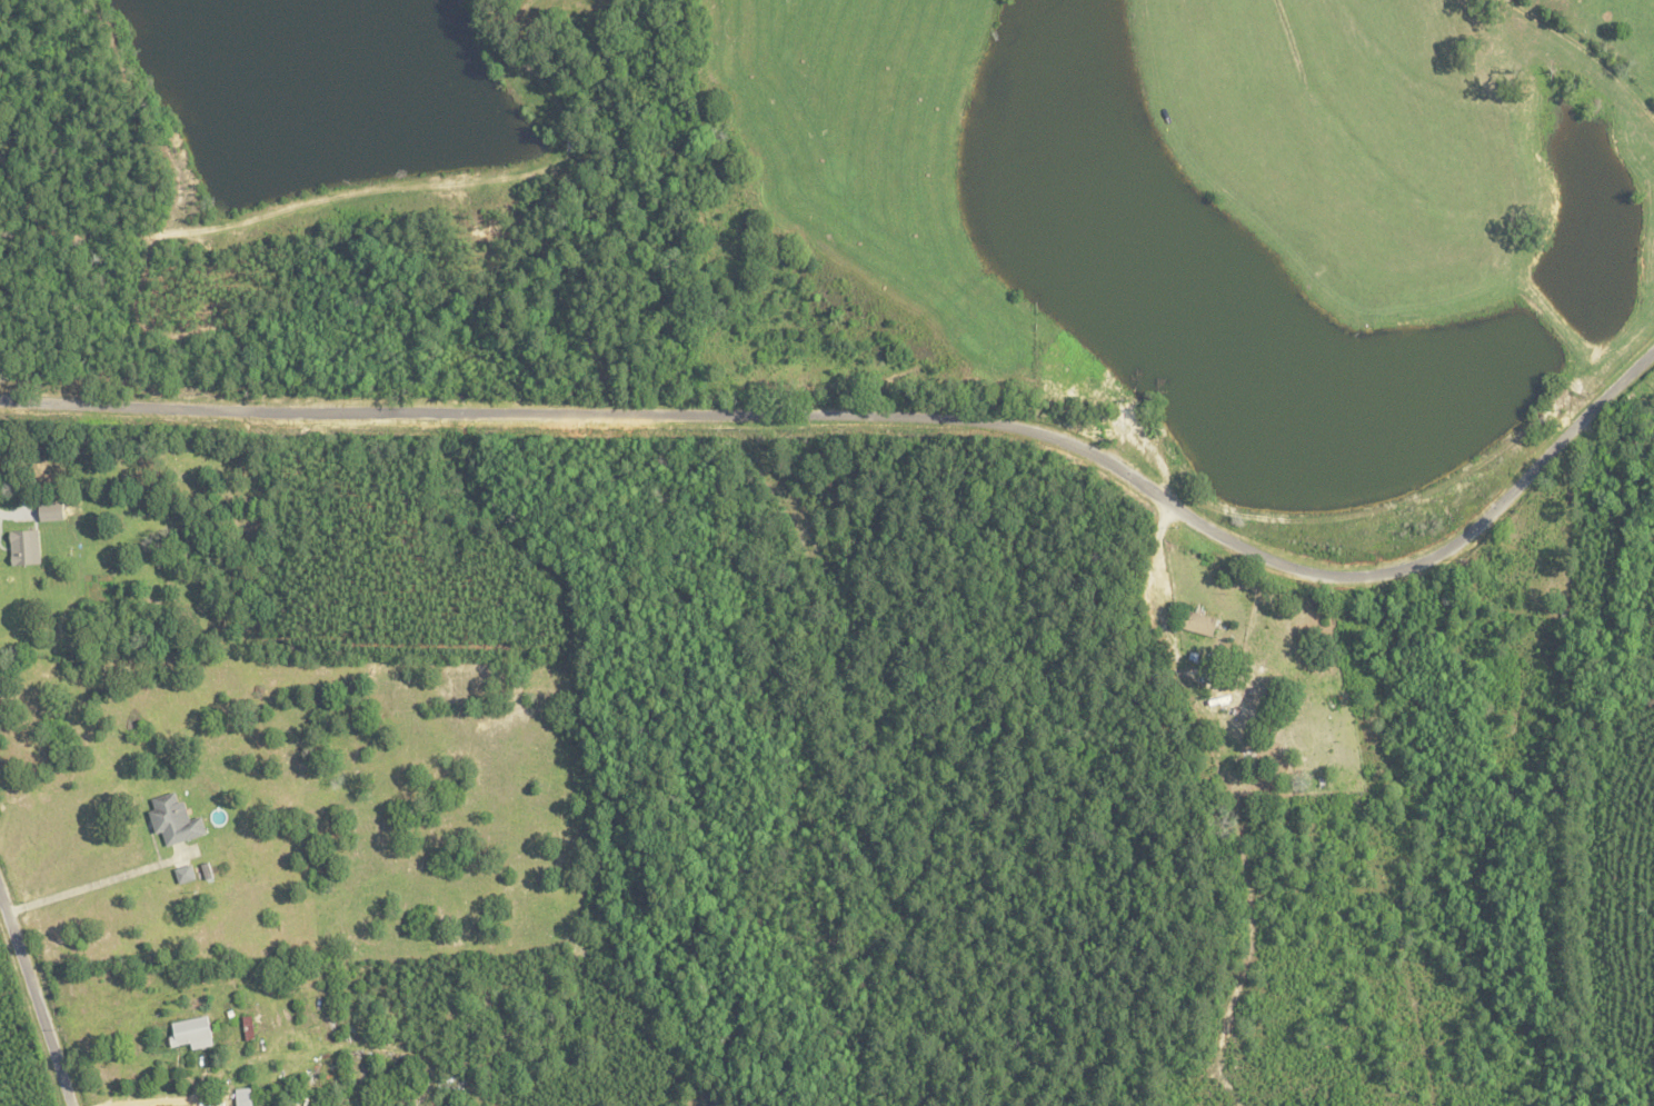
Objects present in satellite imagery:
road: (887, 420)
building: (54, 511)
building: (28, 547)
building: (1202, 622)
building: (177, 820)
building: (206, 870)
building: (186, 874)
road: (84, 887)
road: (30, 1012)
building: (195, 1033)
building: (245, 1097)

